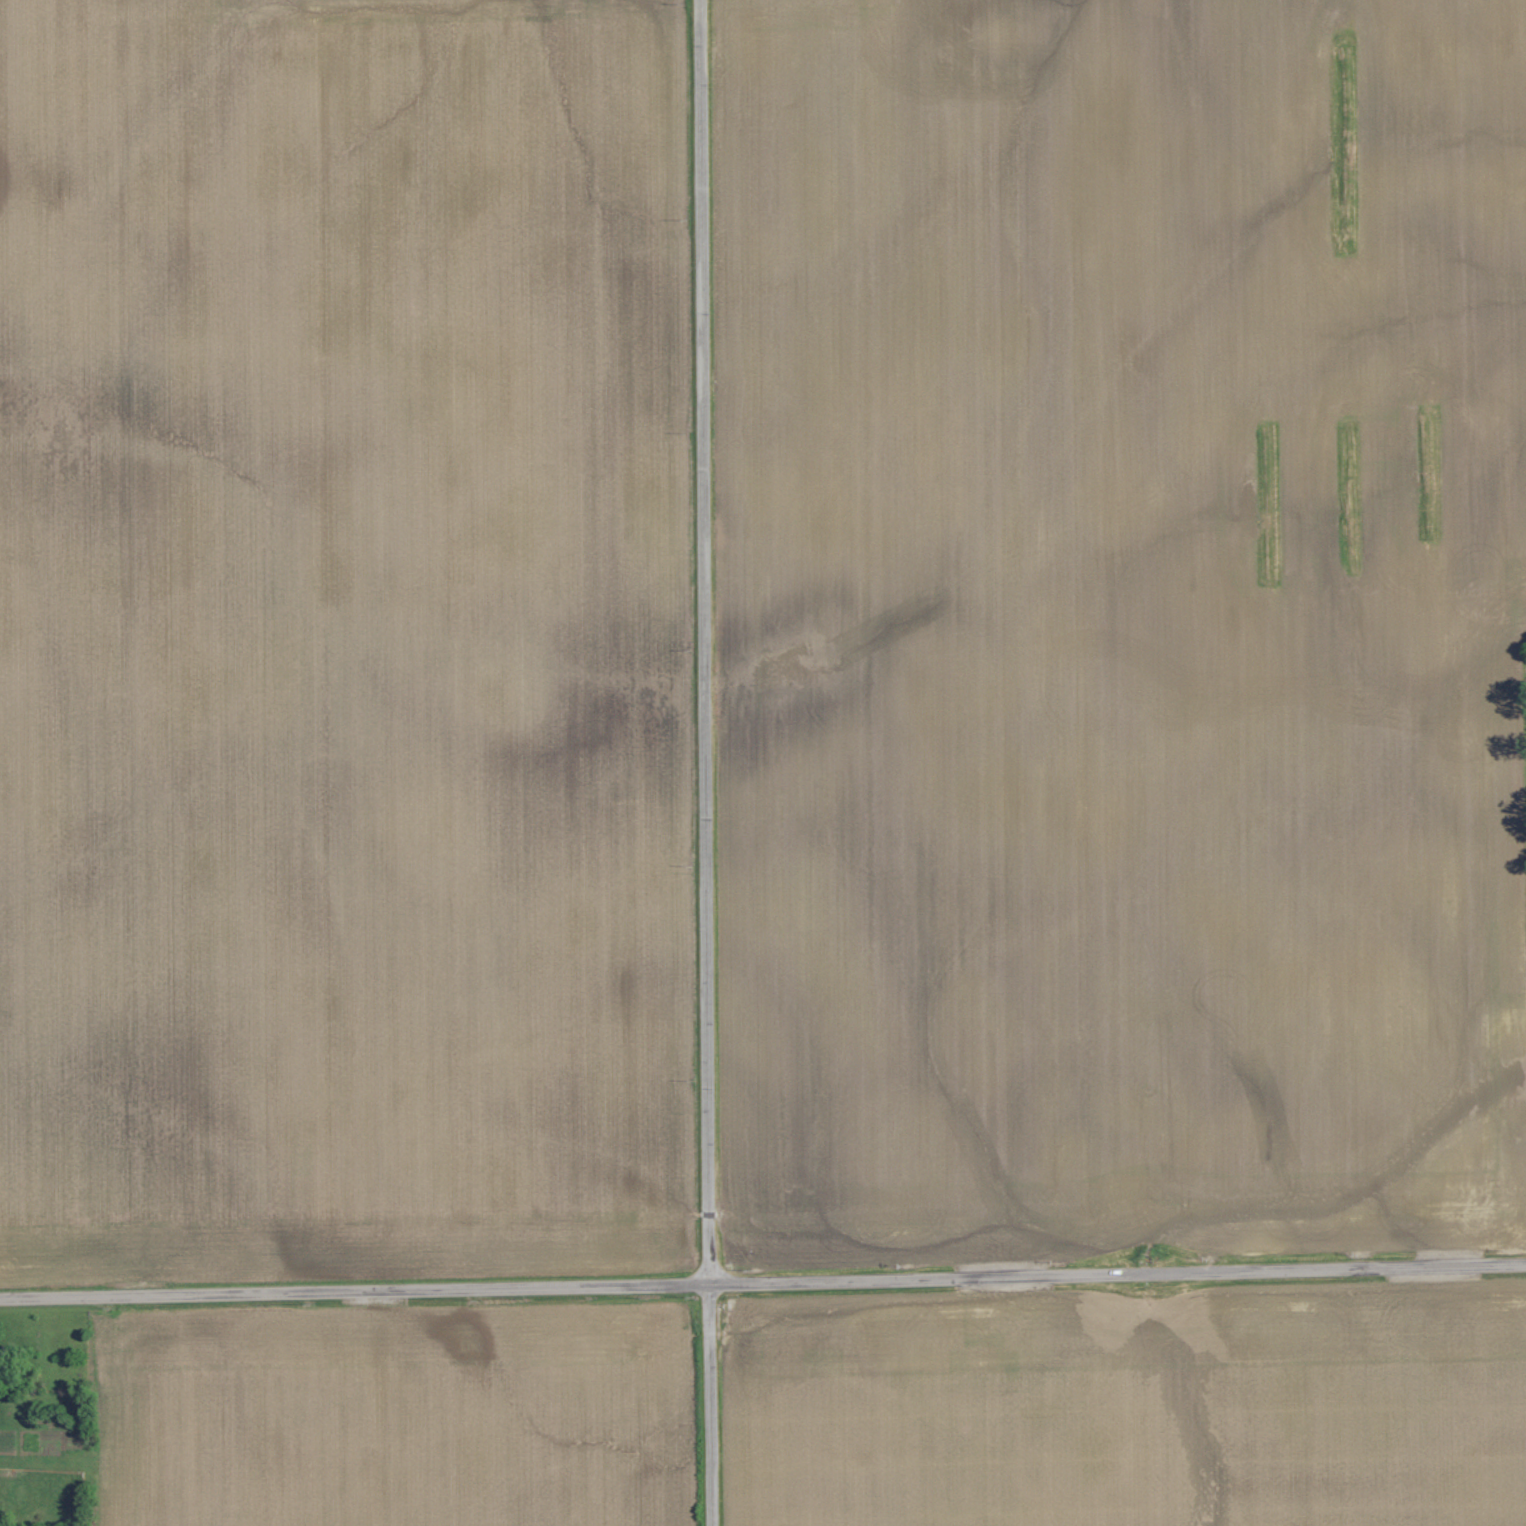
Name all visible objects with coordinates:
crop: (352, 646)
road: (706, 763)
road: (763, 1281)

